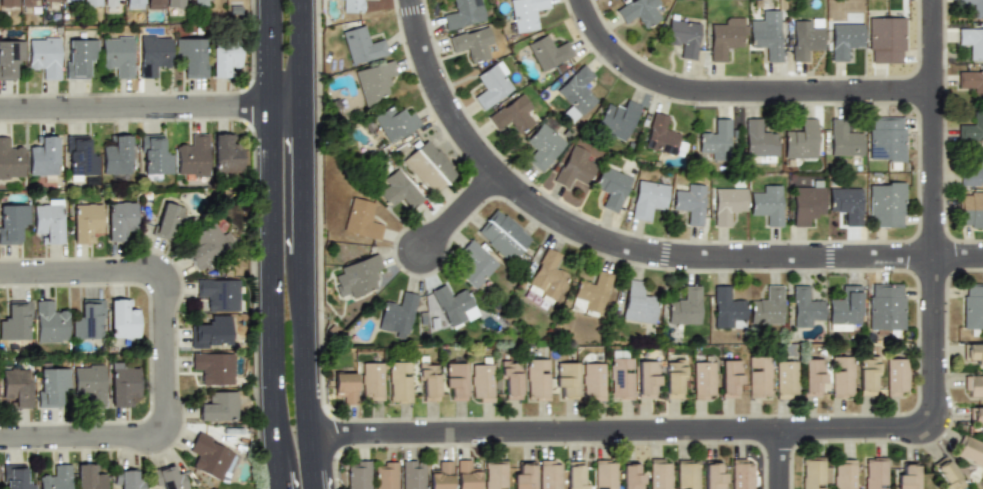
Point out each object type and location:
building: (50, 0)
building: (70, 1)
building: (198, 1)
building: (29, 2)
building: (8, 3)
building: (92, 3)
building: (175, 3)
building: (112, 4)
building: (134, 4)
building: (154, 4)
building: (354, 5)
building: (972, 7)
building: (641, 11)
building: (462, 13)
building: (527, 13)
building: (766, 37)
building: (683, 38)
building: (727, 38)
building: (805, 38)
building: (886, 39)
building: (845, 41)
building: (971, 42)
building: (361, 44)
building: (471, 44)
building: (549, 51)
building: (192, 54)
building: (117, 55)
building: (153, 55)
building: (43, 56)
building: (78, 56)
building: (10, 58)
building: (223, 60)
street lamp: (252, 73)
building: (375, 81)
building: (970, 82)
building: (490, 86)
building: (577, 90)
road: (737, 91)
street lamp: (63, 93)
road: (156, 107)
building: (512, 114)
building: (617, 118)
street lamp: (177, 123)
building: (395, 123)
building: (971, 128)
building: (663, 135)
building: (801, 138)
building: (716, 139)
building: (844, 139)
building: (886, 139)
building: (760, 141)
building: (541, 147)
building: (226, 154)
building: (117, 155)
building: (154, 155)
building: (192, 155)
building: (43, 156)
building: (79, 156)
building: (11, 159)
building: (428, 165)
building: (574, 167)
building: (973, 169)
building: (610, 187)
building: (396, 190)
building: (648, 199)
building: (807, 202)
building: (690, 203)
building: (767, 204)
building: (845, 204)
building: (886, 204)
building: (728, 205)
building: (971, 209)
road: (460, 211)
road: (934, 212)
building: (362, 218)
building: (49, 219)
building: (119, 219)
building: (168, 220)
building: (11, 221)
building: (84, 221)
building: (503, 235)
street lamp: (252, 236)
building: (207, 244)
road: (259, 244)
road: (314, 244)
road: (631, 248)
street lamp: (172, 257)
building: (475, 264)
building: (548, 276)
building: (357, 277)
street lamp: (38, 289)
building: (219, 293)
building: (591, 293)
building: (454, 304)
building: (638, 305)
building: (767, 305)
building: (685, 306)
building: (805, 306)
building: (845, 306)
building: (885, 306)
building: (972, 306)
building: (727, 307)
building: (397, 314)
building: (123, 319)
building: (89, 320)
building: (16, 321)
building: (50, 321)
building: (212, 331)
building: (973, 353)
street lamp: (151, 354)
road: (166, 354)
building: (213, 366)
building: (621, 375)
building: (674, 376)
building: (759, 376)
building: (868, 376)
building: (897, 376)
building: (730, 377)
building: (813, 377)
building: (841, 377)
building: (538, 378)
building: (647, 378)
building: (785, 378)
building: (511, 379)
building: (566, 379)
building: (703, 380)
building: (372, 381)
building: (455, 381)
building: (483, 381)
building: (593, 381)
building: (124, 382)
building: (400, 382)
building: (428, 382)
building: (89, 383)
building: (51, 385)
building: (345, 385)
building: (973, 385)
building: (17, 386)
street lamp: (254, 388)
building: (218, 406)
building: (975, 416)
street lamp: (39, 422)
road: (626, 430)
road: (288, 449)
building: (970, 450)
building: (213, 457)
street lamp: (150, 458)
road: (782, 459)
building: (812, 473)
building: (875, 473)
building: (358, 474)
building: (468, 474)
building: (496, 474)
building: (550, 474)
building: (605, 474)
building: (659, 474)
building: (742, 474)
building: (844, 474)
building: (907, 474)
building: (412, 475)
building: (523, 475)
building: (576, 475)
building: (687, 475)
building: (714, 475)
building: (947, 475)
building: (385, 476)
building: (441, 476)
building: (57, 477)
building: (89, 477)
building: (630, 477)
building: (17, 478)
building: (169, 478)
building: (128, 479)

